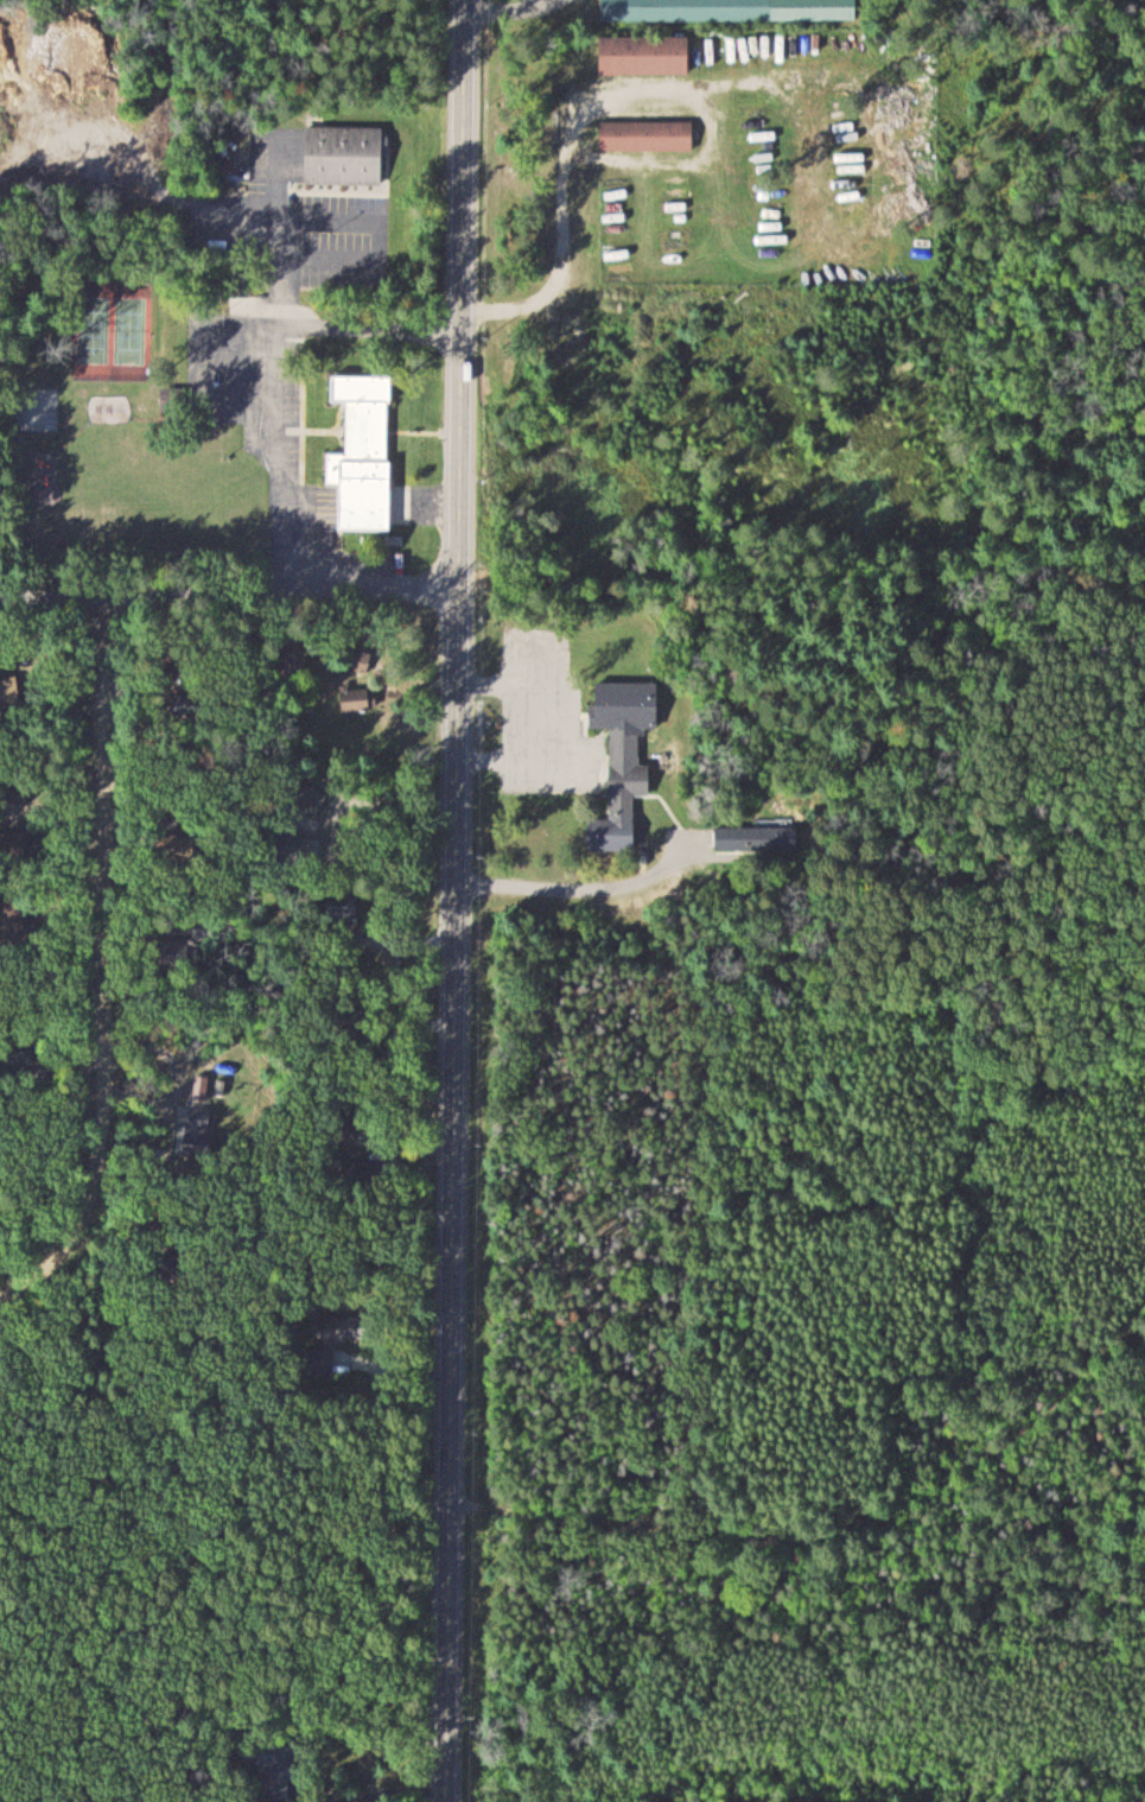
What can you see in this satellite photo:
building: (688, 11)
building: (645, 55)
building: (648, 135)
building: (346, 156)
building: (368, 458)
road: (228, 595)
building: (8, 690)
building: (358, 699)
building: (624, 757)
building: (757, 838)
road: (453, 901)
road: (102, 971)
building: (199, 1127)
building: (329, 1347)
building: (282, 1769)

